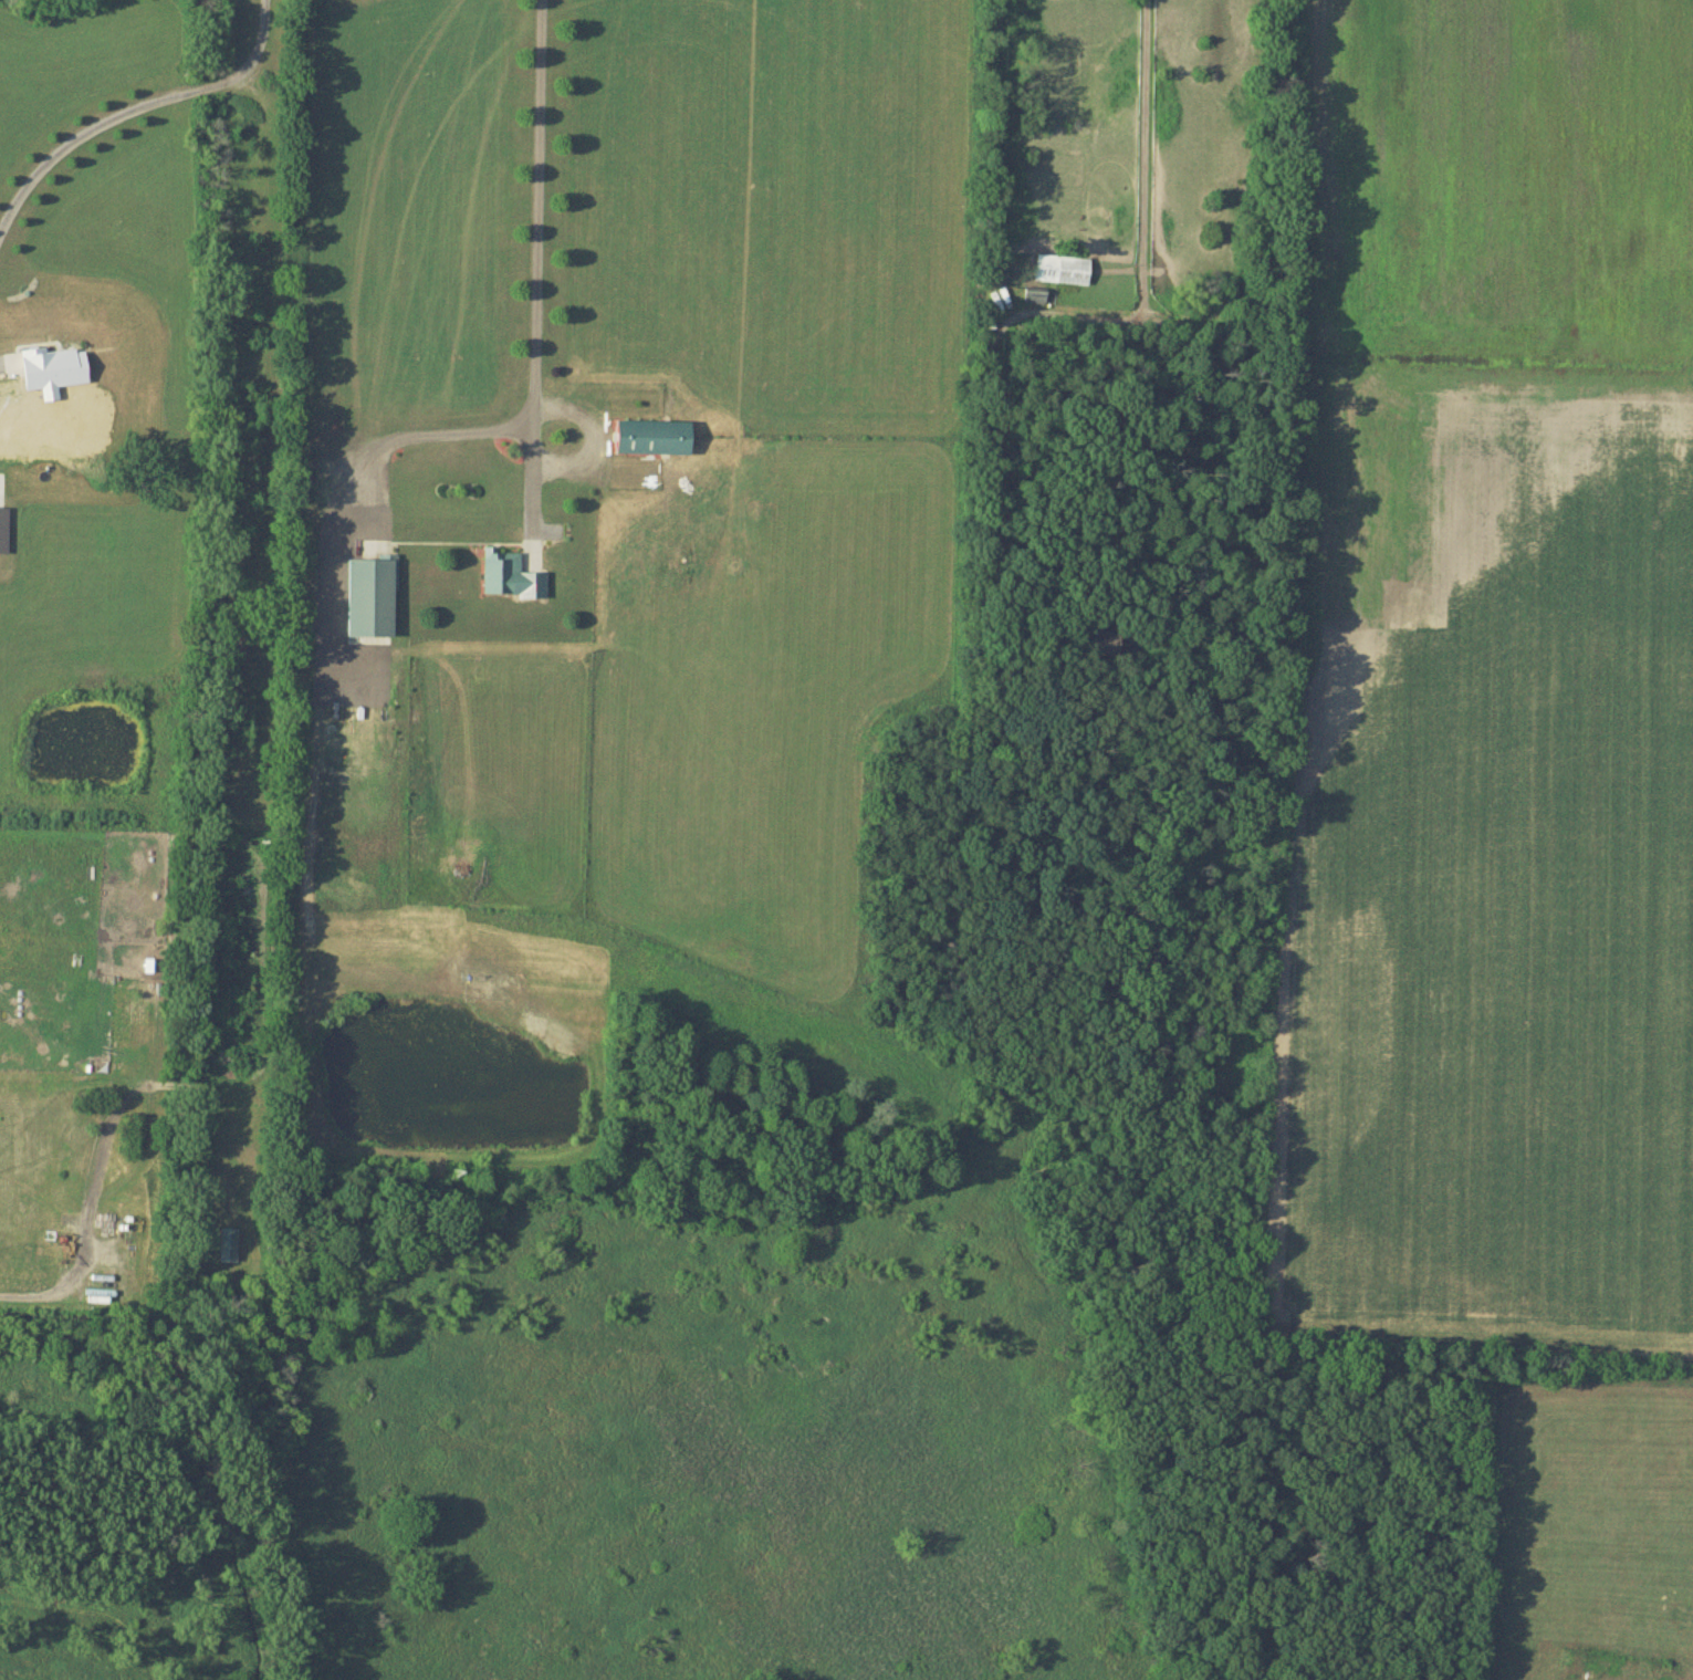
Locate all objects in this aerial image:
road: (137, 106)
road: (540, 260)
road: (430, 436)
road: (56, 1288)

